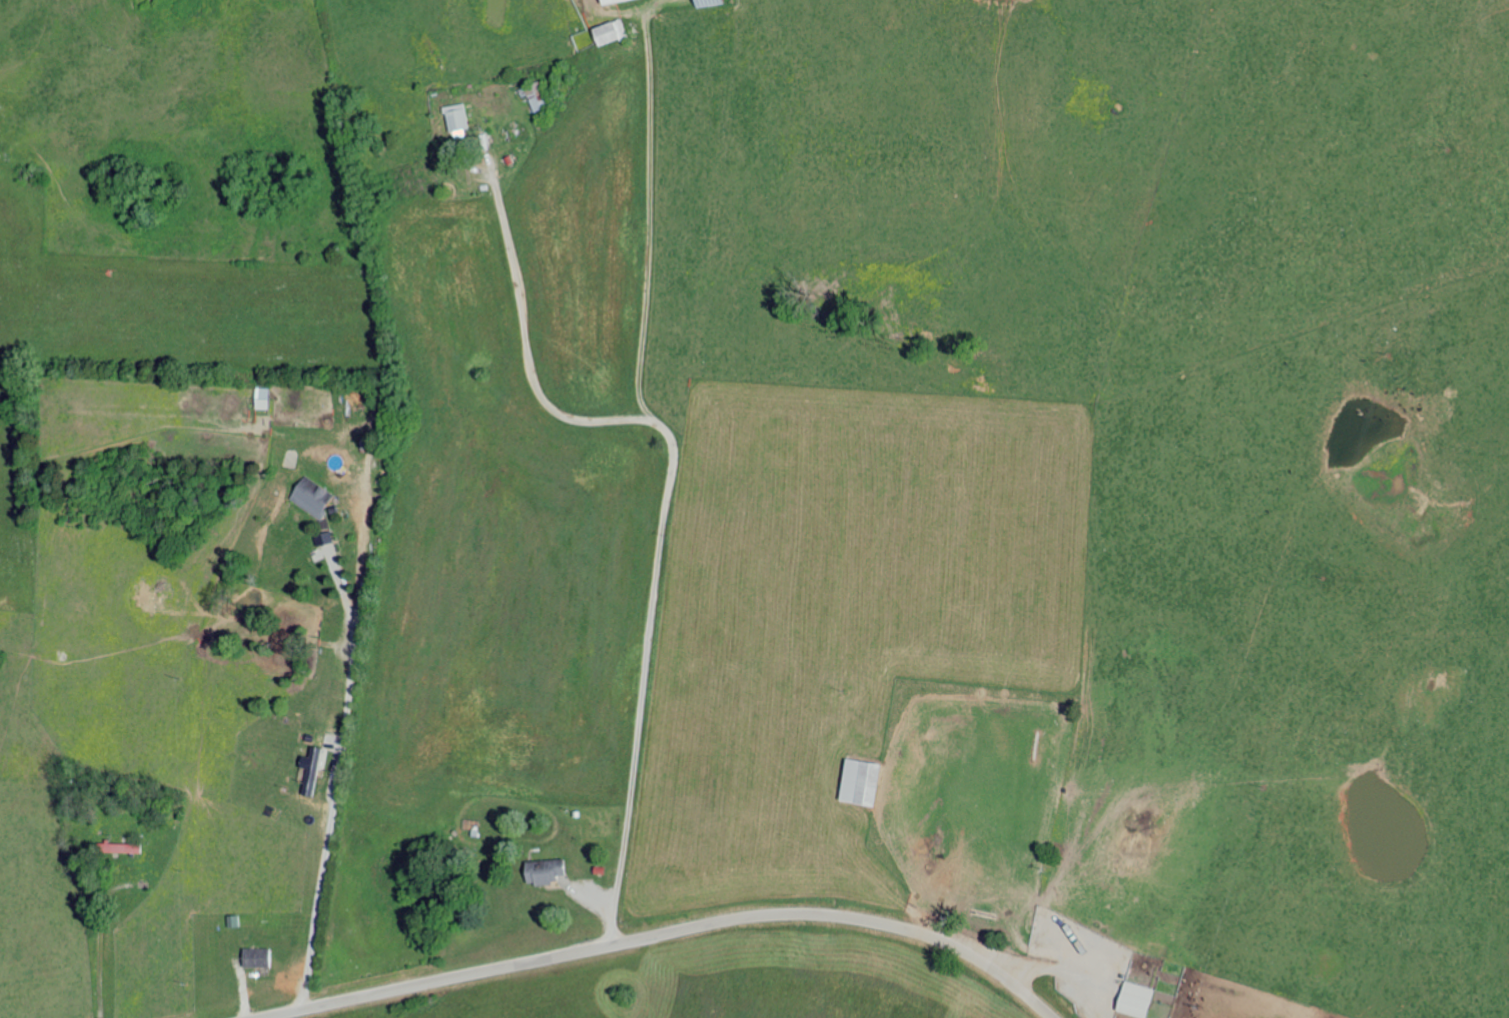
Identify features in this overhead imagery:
building: (609, 1)
building: (609, 31)
building: (534, 95)
building: (457, 118)
building: (261, 397)
building: (310, 496)
road: (632, 532)
road: (961, 767)
building: (308, 769)
building: (859, 780)
building: (119, 846)
building: (543, 869)
road: (663, 932)
building: (255, 956)
building: (1136, 998)

